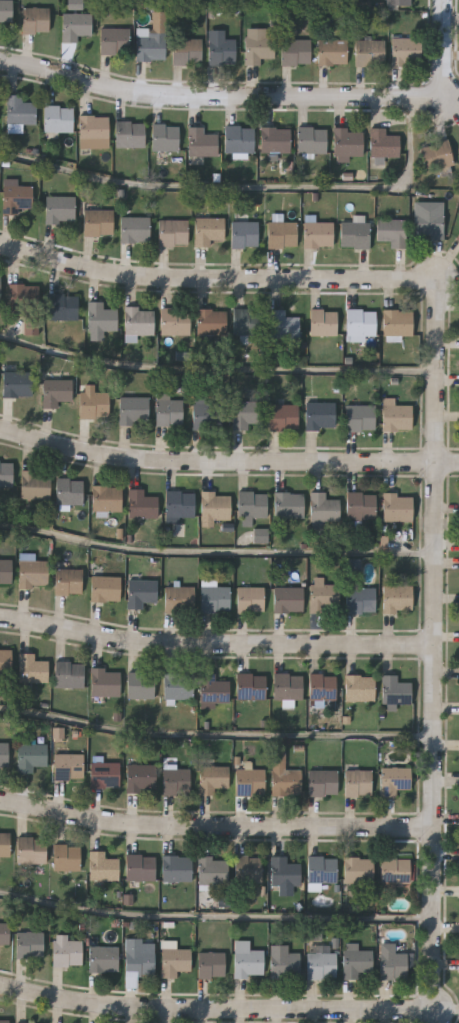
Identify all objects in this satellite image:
building: (399, 3)
building: (76, 5)
building: (6, 10)
building: (36, 19)
building: (75, 26)
building: (153, 39)
building: (115, 40)
building: (258, 45)
building: (188, 50)
building: (222, 50)
building: (370, 51)
building: (407, 51)
building: (296, 52)
building: (332, 52)
road: (266, 95)
building: (20, 111)
building: (59, 119)
building: (94, 132)
building: (130, 134)
building: (165, 137)
building: (239, 139)
building: (275, 139)
building: (312, 139)
building: (202, 142)
building: (348, 142)
building: (385, 142)
building: (437, 155)
road: (244, 186)
building: (16, 196)
building: (60, 209)
building: (99, 223)
building: (429, 224)
building: (135, 228)
building: (208, 230)
building: (173, 232)
building: (392, 233)
building: (245, 234)
building: (282, 234)
building: (319, 234)
building: (356, 234)
building: (458, 237)
road: (213, 278)
building: (0, 287)
building: (25, 296)
building: (63, 307)
building: (101, 317)
building: (176, 320)
building: (139, 321)
building: (211, 321)
building: (248, 322)
building: (324, 322)
building: (398, 323)
building: (282, 324)
building: (361, 324)
road: (218, 371)
building: (17, 383)
building: (57, 391)
building: (94, 403)
building: (134, 411)
building: (169, 411)
building: (208, 414)
building: (247, 415)
building: (321, 416)
building: (396, 416)
building: (284, 417)
building: (361, 418)
road: (227, 461)
building: (6, 473)
building: (35, 484)
building: (70, 491)
building: (107, 498)
building: (142, 504)
building: (181, 504)
building: (290, 505)
building: (215, 506)
building: (251, 506)
building: (361, 506)
building: (324, 508)
building: (398, 508)
building: (262, 536)
road: (218, 551)
building: (353, 567)
building: (6, 572)
building: (33, 573)
building: (69, 581)
building: (106, 588)
building: (142, 592)
building: (324, 596)
building: (179, 598)
building: (216, 598)
building: (251, 598)
building: (398, 598)
building: (289, 599)
building: (361, 600)
road: (438, 639)
road: (218, 643)
building: (6, 660)
building: (32, 668)
building: (70, 674)
building: (105, 682)
building: (141, 685)
building: (178, 685)
building: (251, 686)
building: (288, 686)
building: (323, 687)
building: (213, 688)
building: (360, 688)
building: (396, 690)
building: (59, 734)
road: (217, 734)
building: (4, 755)
building: (32, 758)
building: (69, 767)
building: (105, 774)
building: (284, 776)
building: (141, 778)
building: (213, 779)
building: (396, 780)
building: (177, 782)
building: (250, 782)
building: (323, 783)
building: (358, 783)
road: (217, 825)
building: (5, 844)
building: (32, 850)
building: (67, 857)
building: (103, 867)
building: (140, 867)
building: (177, 869)
building: (322, 869)
building: (214, 870)
building: (249, 870)
building: (359, 870)
building: (396, 871)
building: (285, 872)
road: (216, 916)
building: (5, 933)
building: (29, 945)
building: (67, 953)
building: (104, 958)
building: (139, 959)
building: (248, 960)
building: (394, 962)
building: (177, 963)
building: (357, 963)
building: (211, 964)
building: (286, 965)
building: (322, 965)
road: (217, 1010)
building: (4, 1021)

